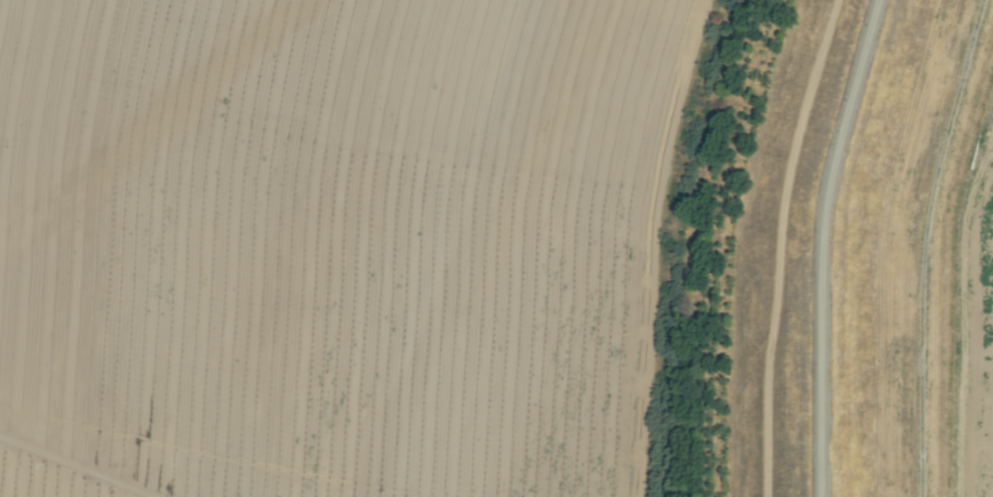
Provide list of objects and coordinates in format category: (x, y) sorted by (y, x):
road: (101, 457)

